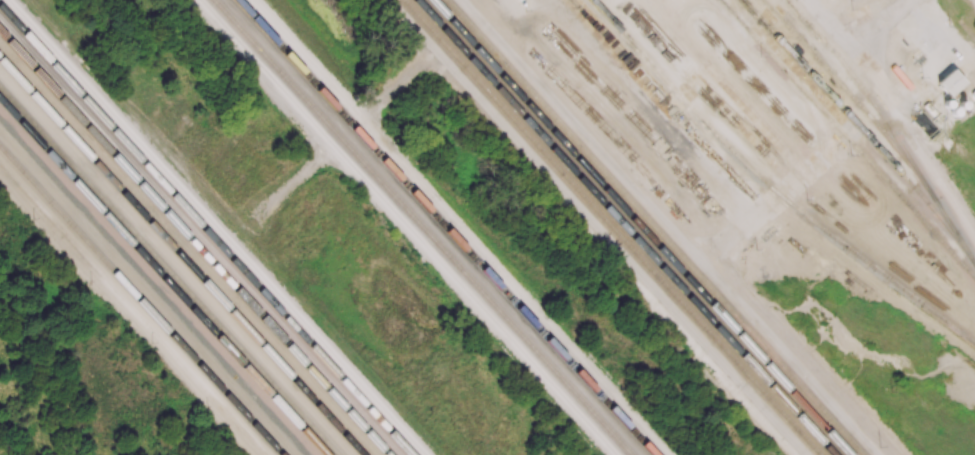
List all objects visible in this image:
road: (877, 25)
road: (857, 62)
railway: (845, 85)
railway: (855, 122)
railway: (889, 124)
railway: (849, 137)
railway: (771, 185)
railway: (447, 226)
road: (597, 226)
railway: (424, 227)
railway: (613, 227)
railway: (627, 227)
railway: (642, 227)
railway: (655, 227)
railway: (205, 230)
railway: (195, 241)
railway: (180, 256)
railway: (170, 269)
railway: (164, 275)
railway: (547, 276)
railway: (142, 299)

